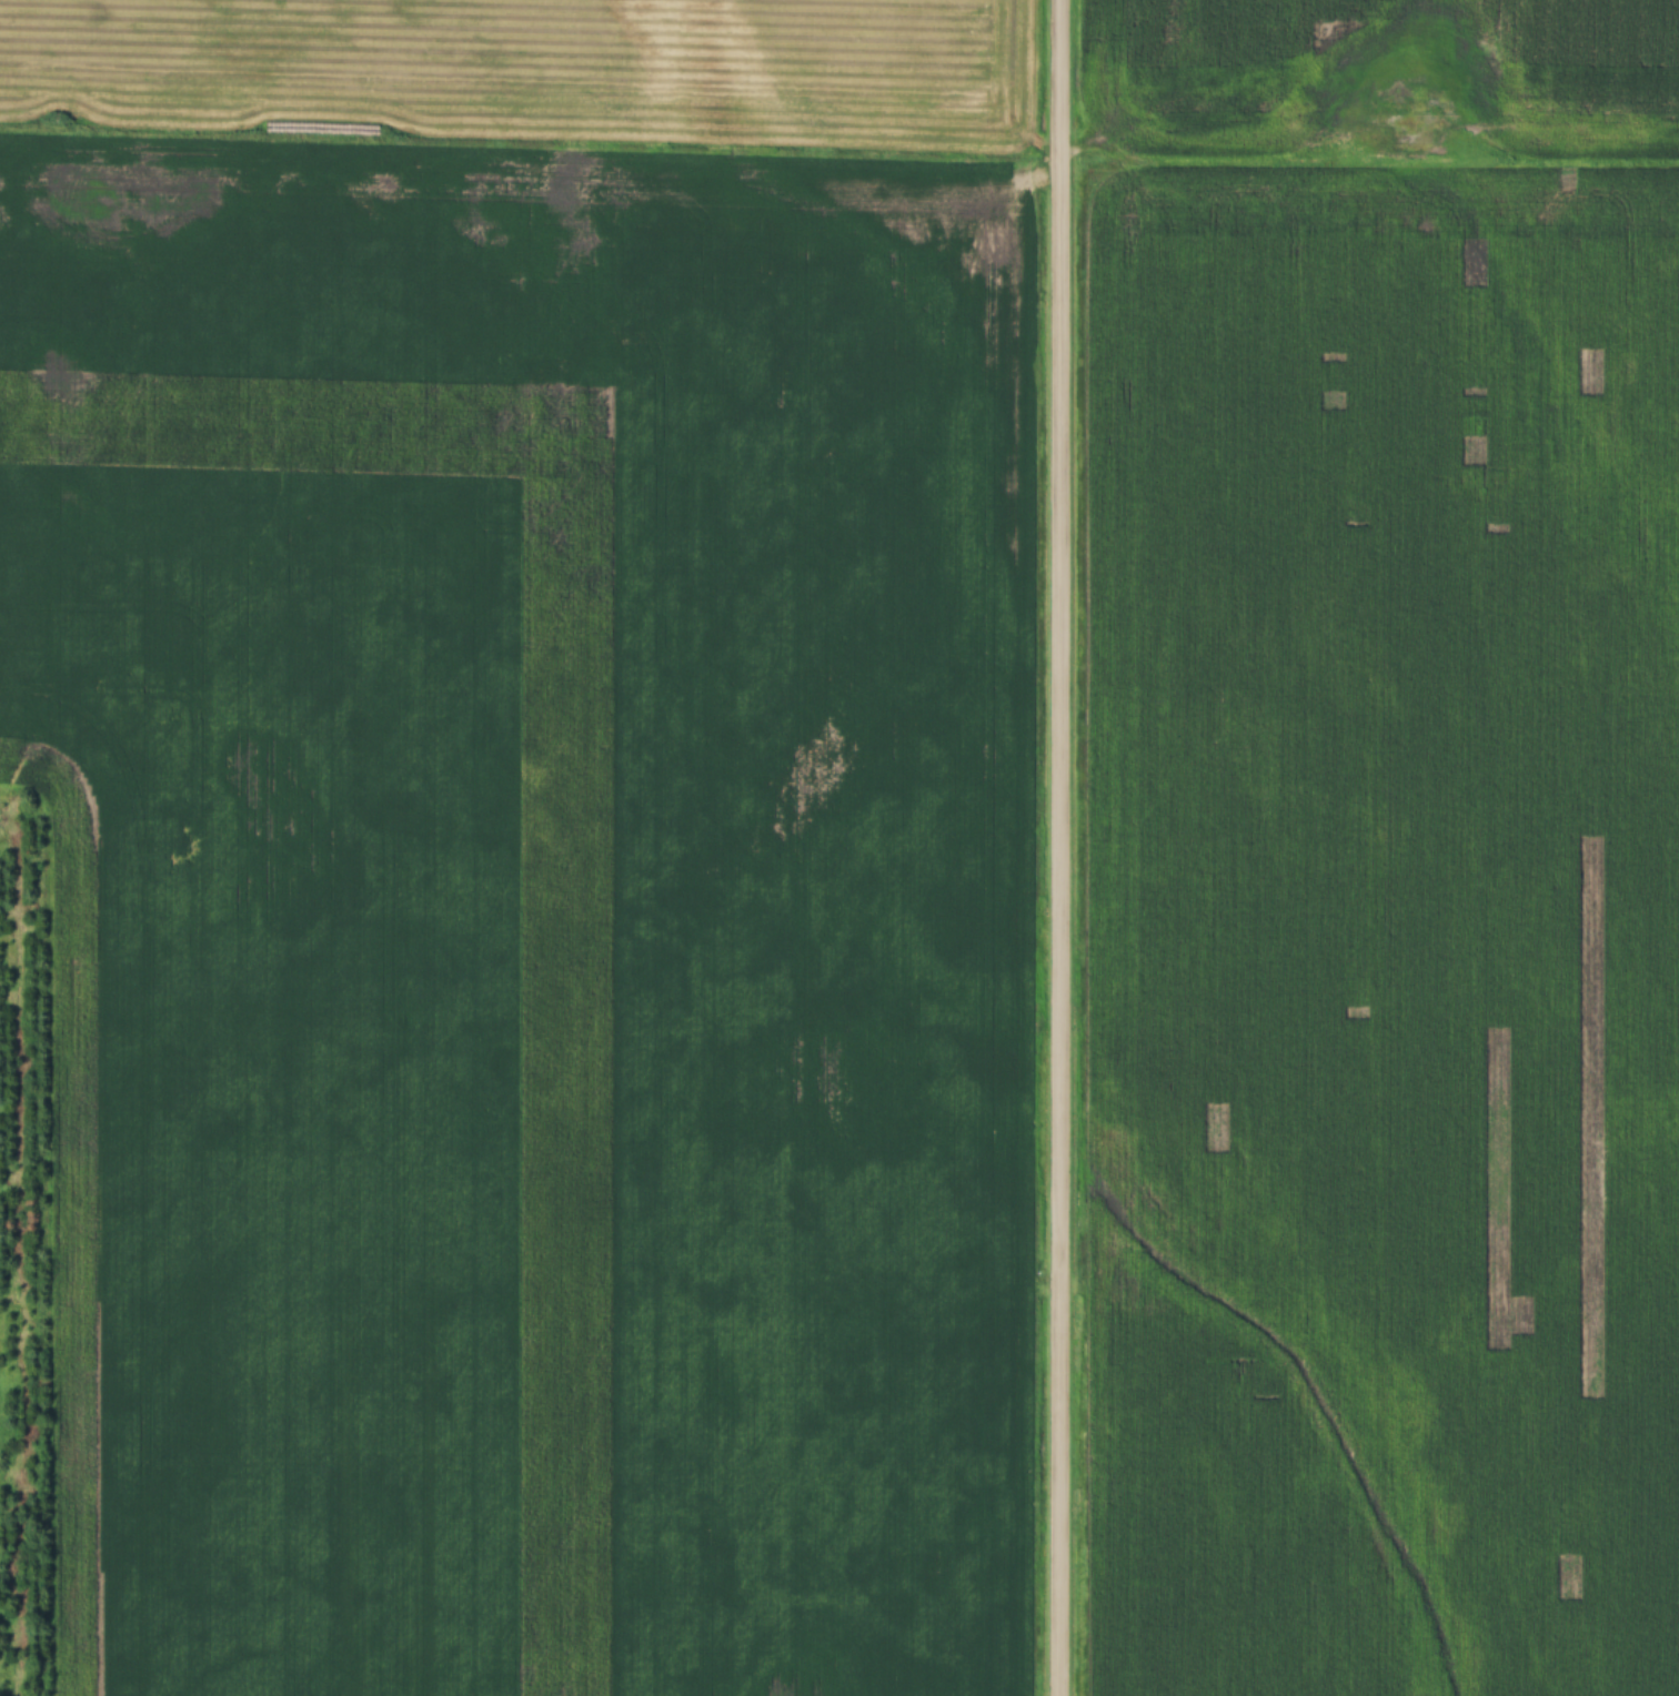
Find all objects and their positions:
road: (1060, 848)

